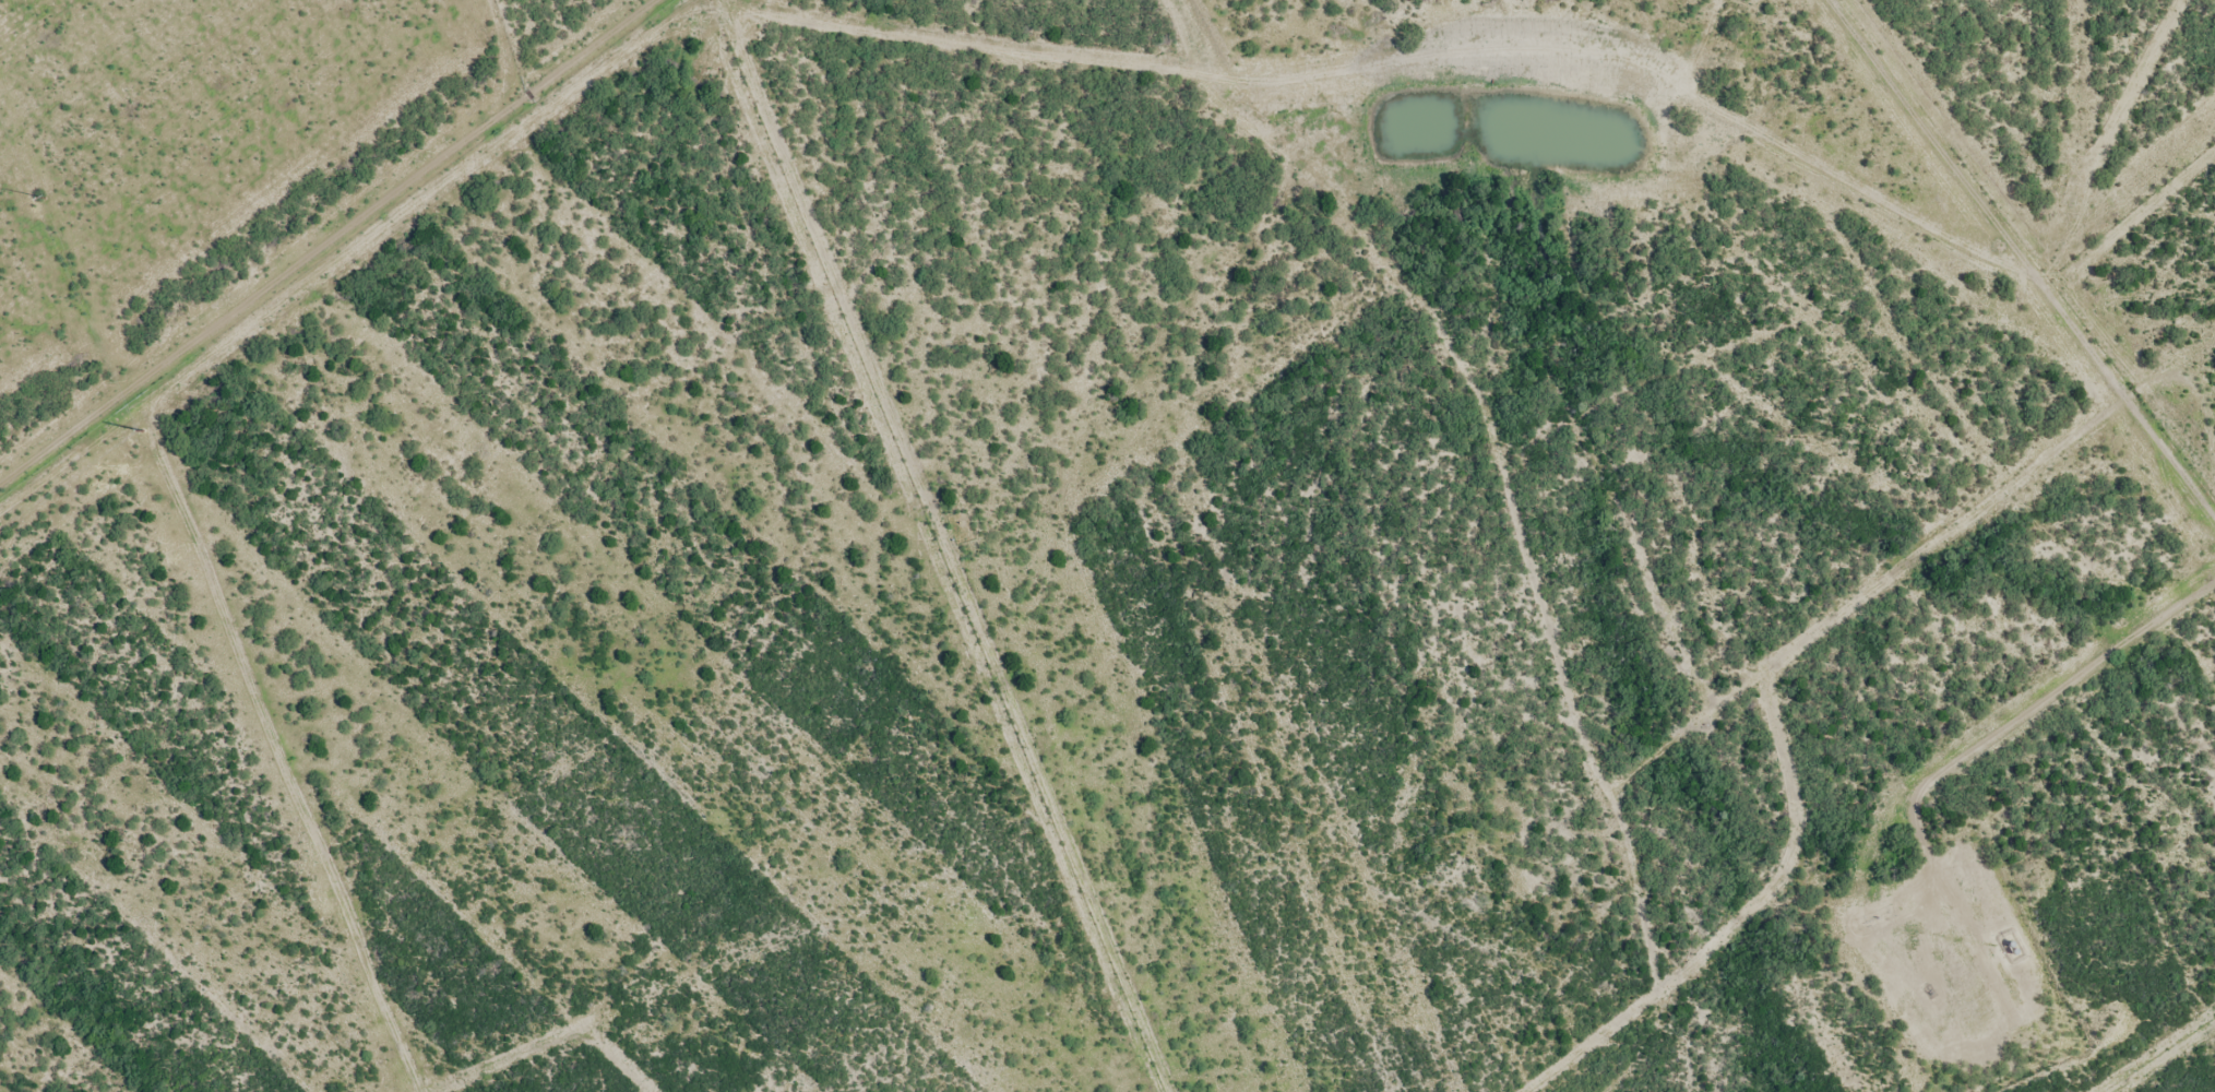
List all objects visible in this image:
power tower: (43, 198)
power tower: (187, 546)
power tower: (324, 892)

